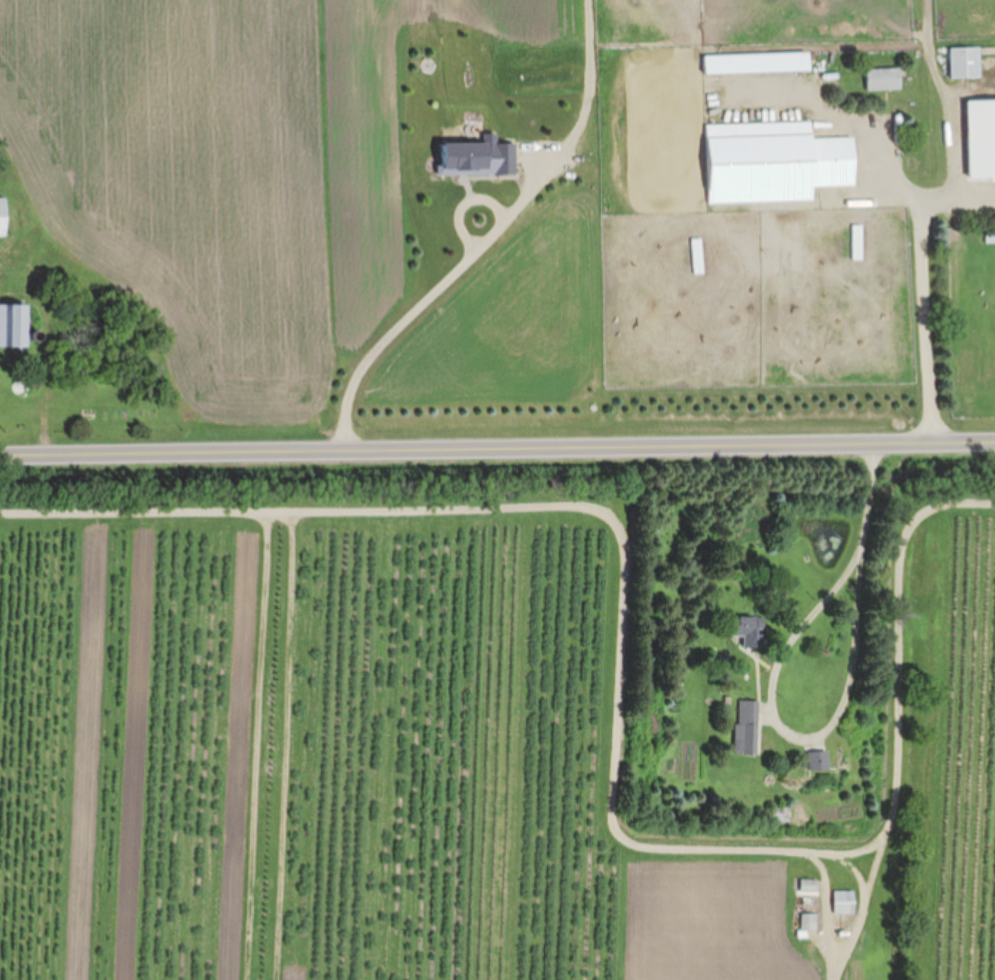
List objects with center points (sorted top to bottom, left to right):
building: (966, 62)
building: (757, 63)
building: (884, 79)
building: (982, 138)
building: (775, 163)
building: (3, 217)
building: (856, 243)
building: (698, 256)
road: (926, 288)
road: (418, 297)
building: (11, 325)
road: (497, 447)
road: (609, 511)
road: (813, 607)
building: (745, 630)
road: (906, 714)
building: (747, 727)
building: (818, 759)
building: (810, 886)
building: (846, 902)
building: (811, 922)

